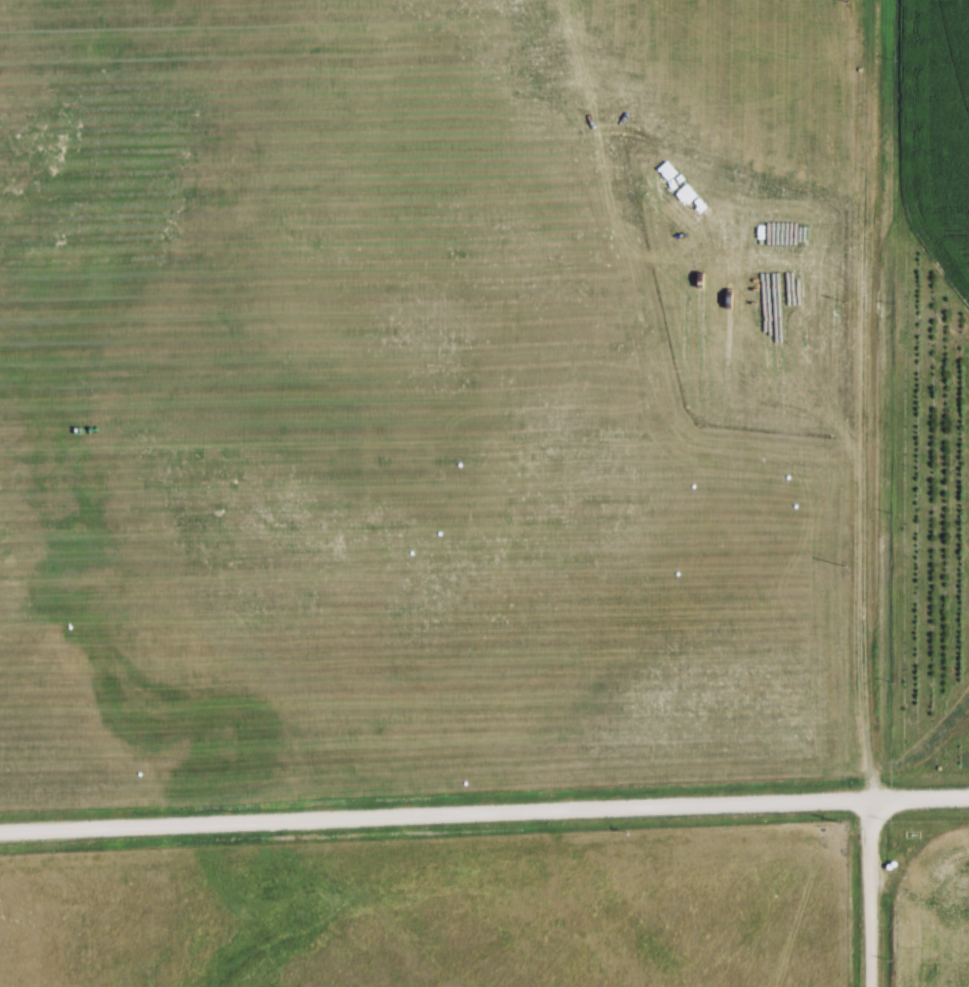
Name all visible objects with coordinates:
road: (865, 493)
road: (484, 811)

